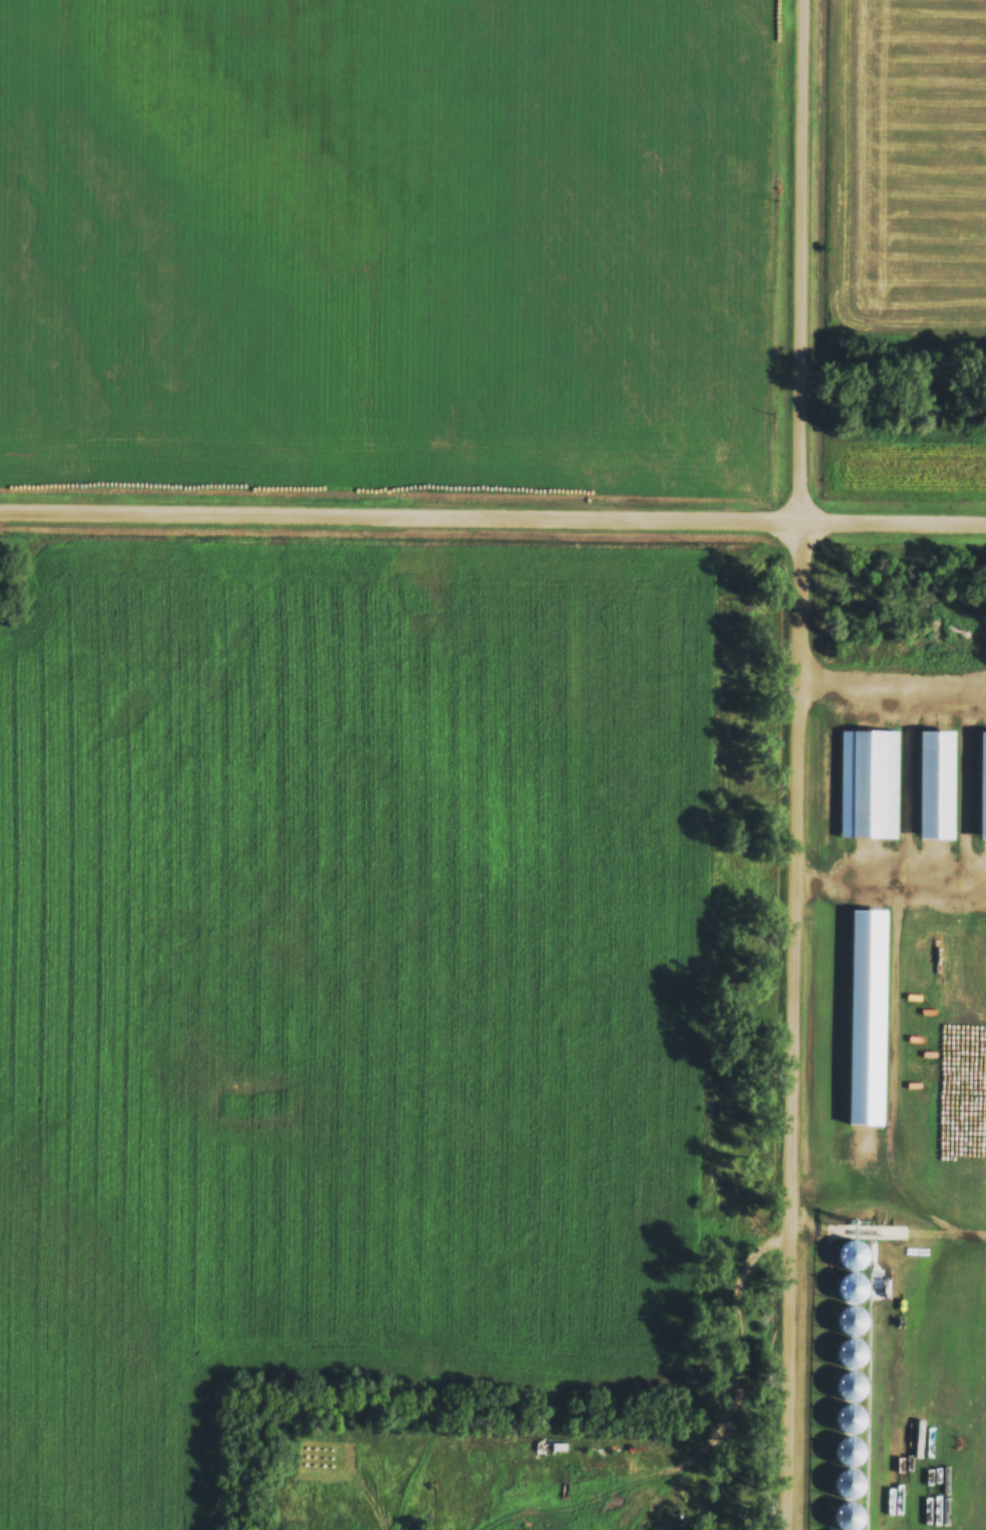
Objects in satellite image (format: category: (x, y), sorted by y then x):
road: (492, 519)
road: (893, 682)
road: (800, 765)
building: (869, 782)
building: (934, 786)
building: (980, 790)
building: (851, 1319)
building: (848, 1353)
building: (850, 1385)
building: (849, 1419)
road: (423, 1480)

